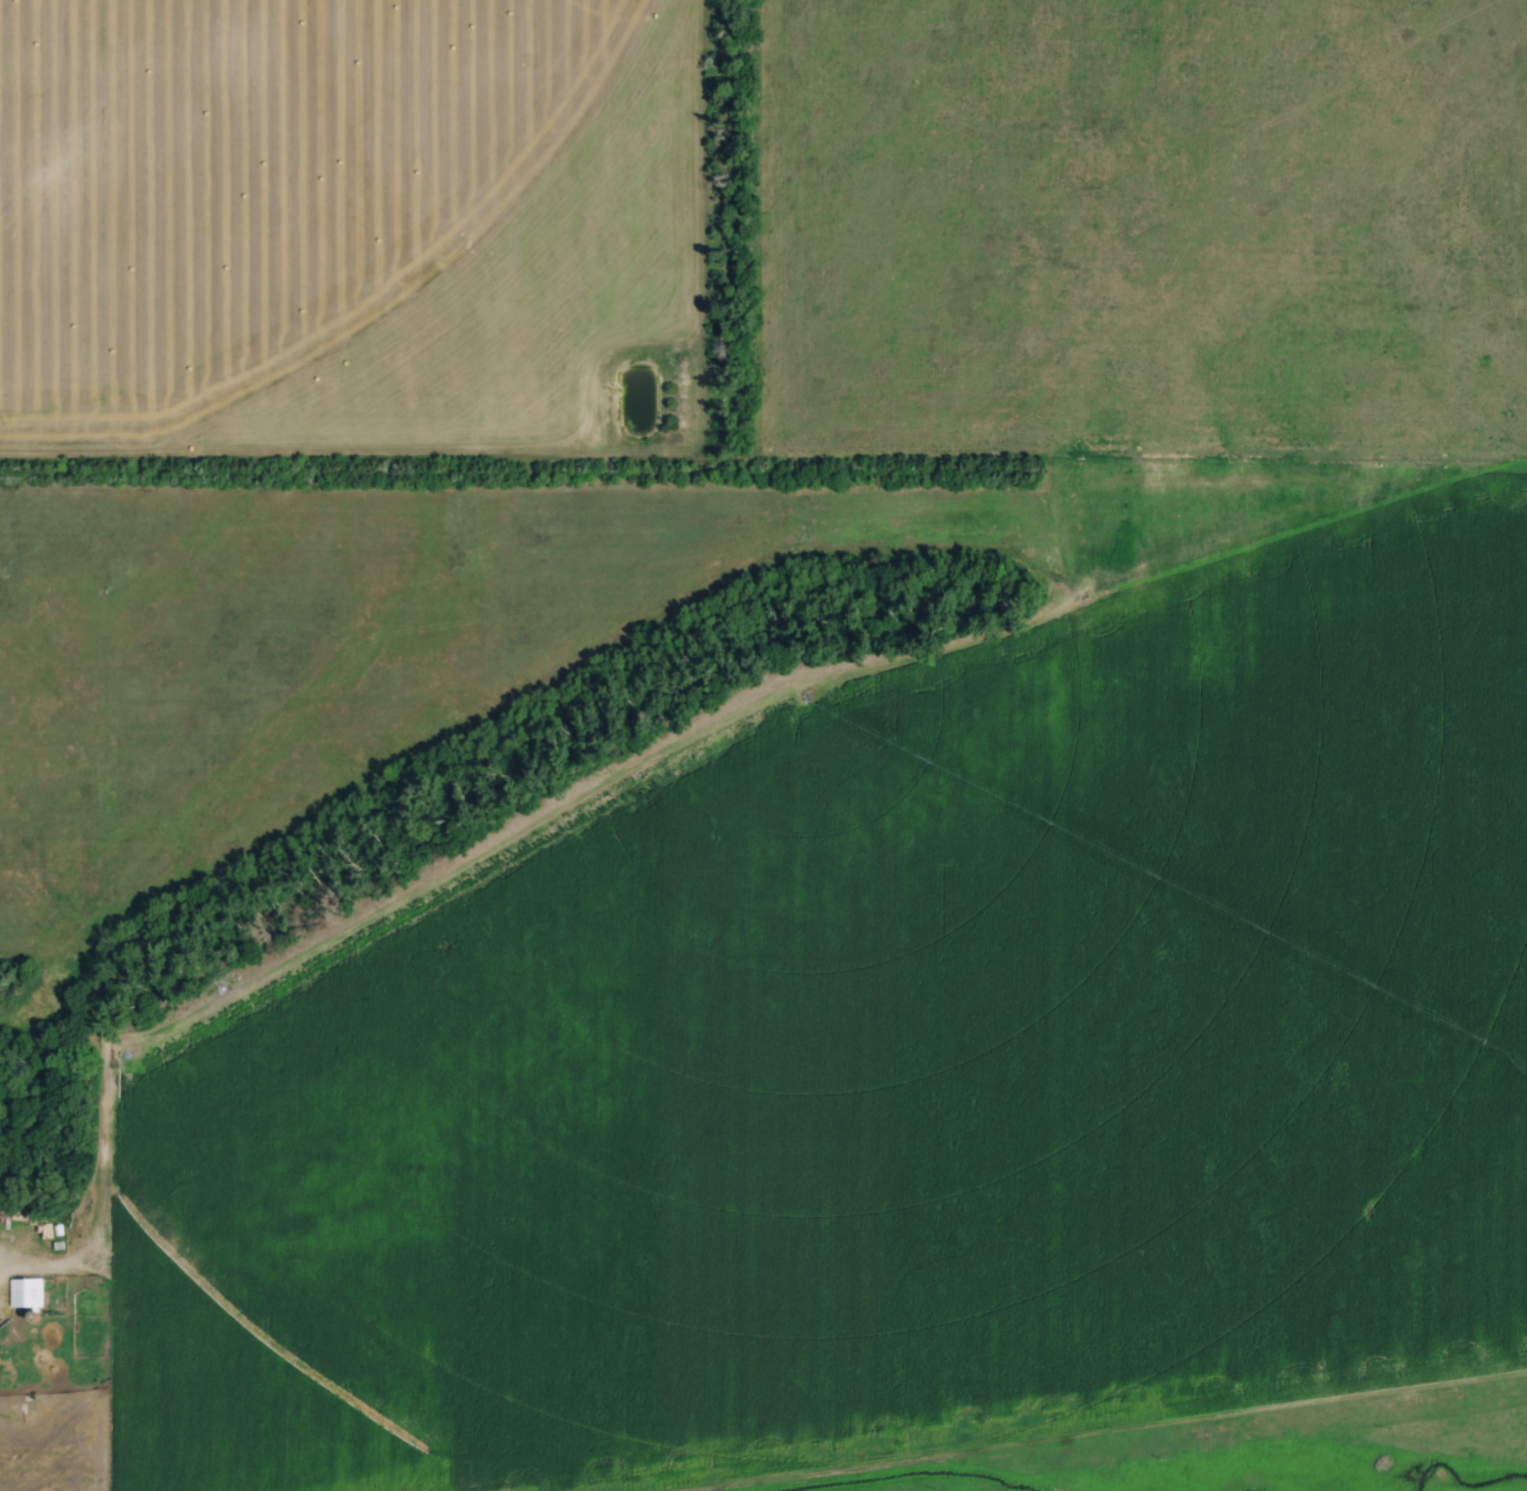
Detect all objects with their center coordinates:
building: (26, 1294)
river: (902, 1473)
river: (1461, 1483)

